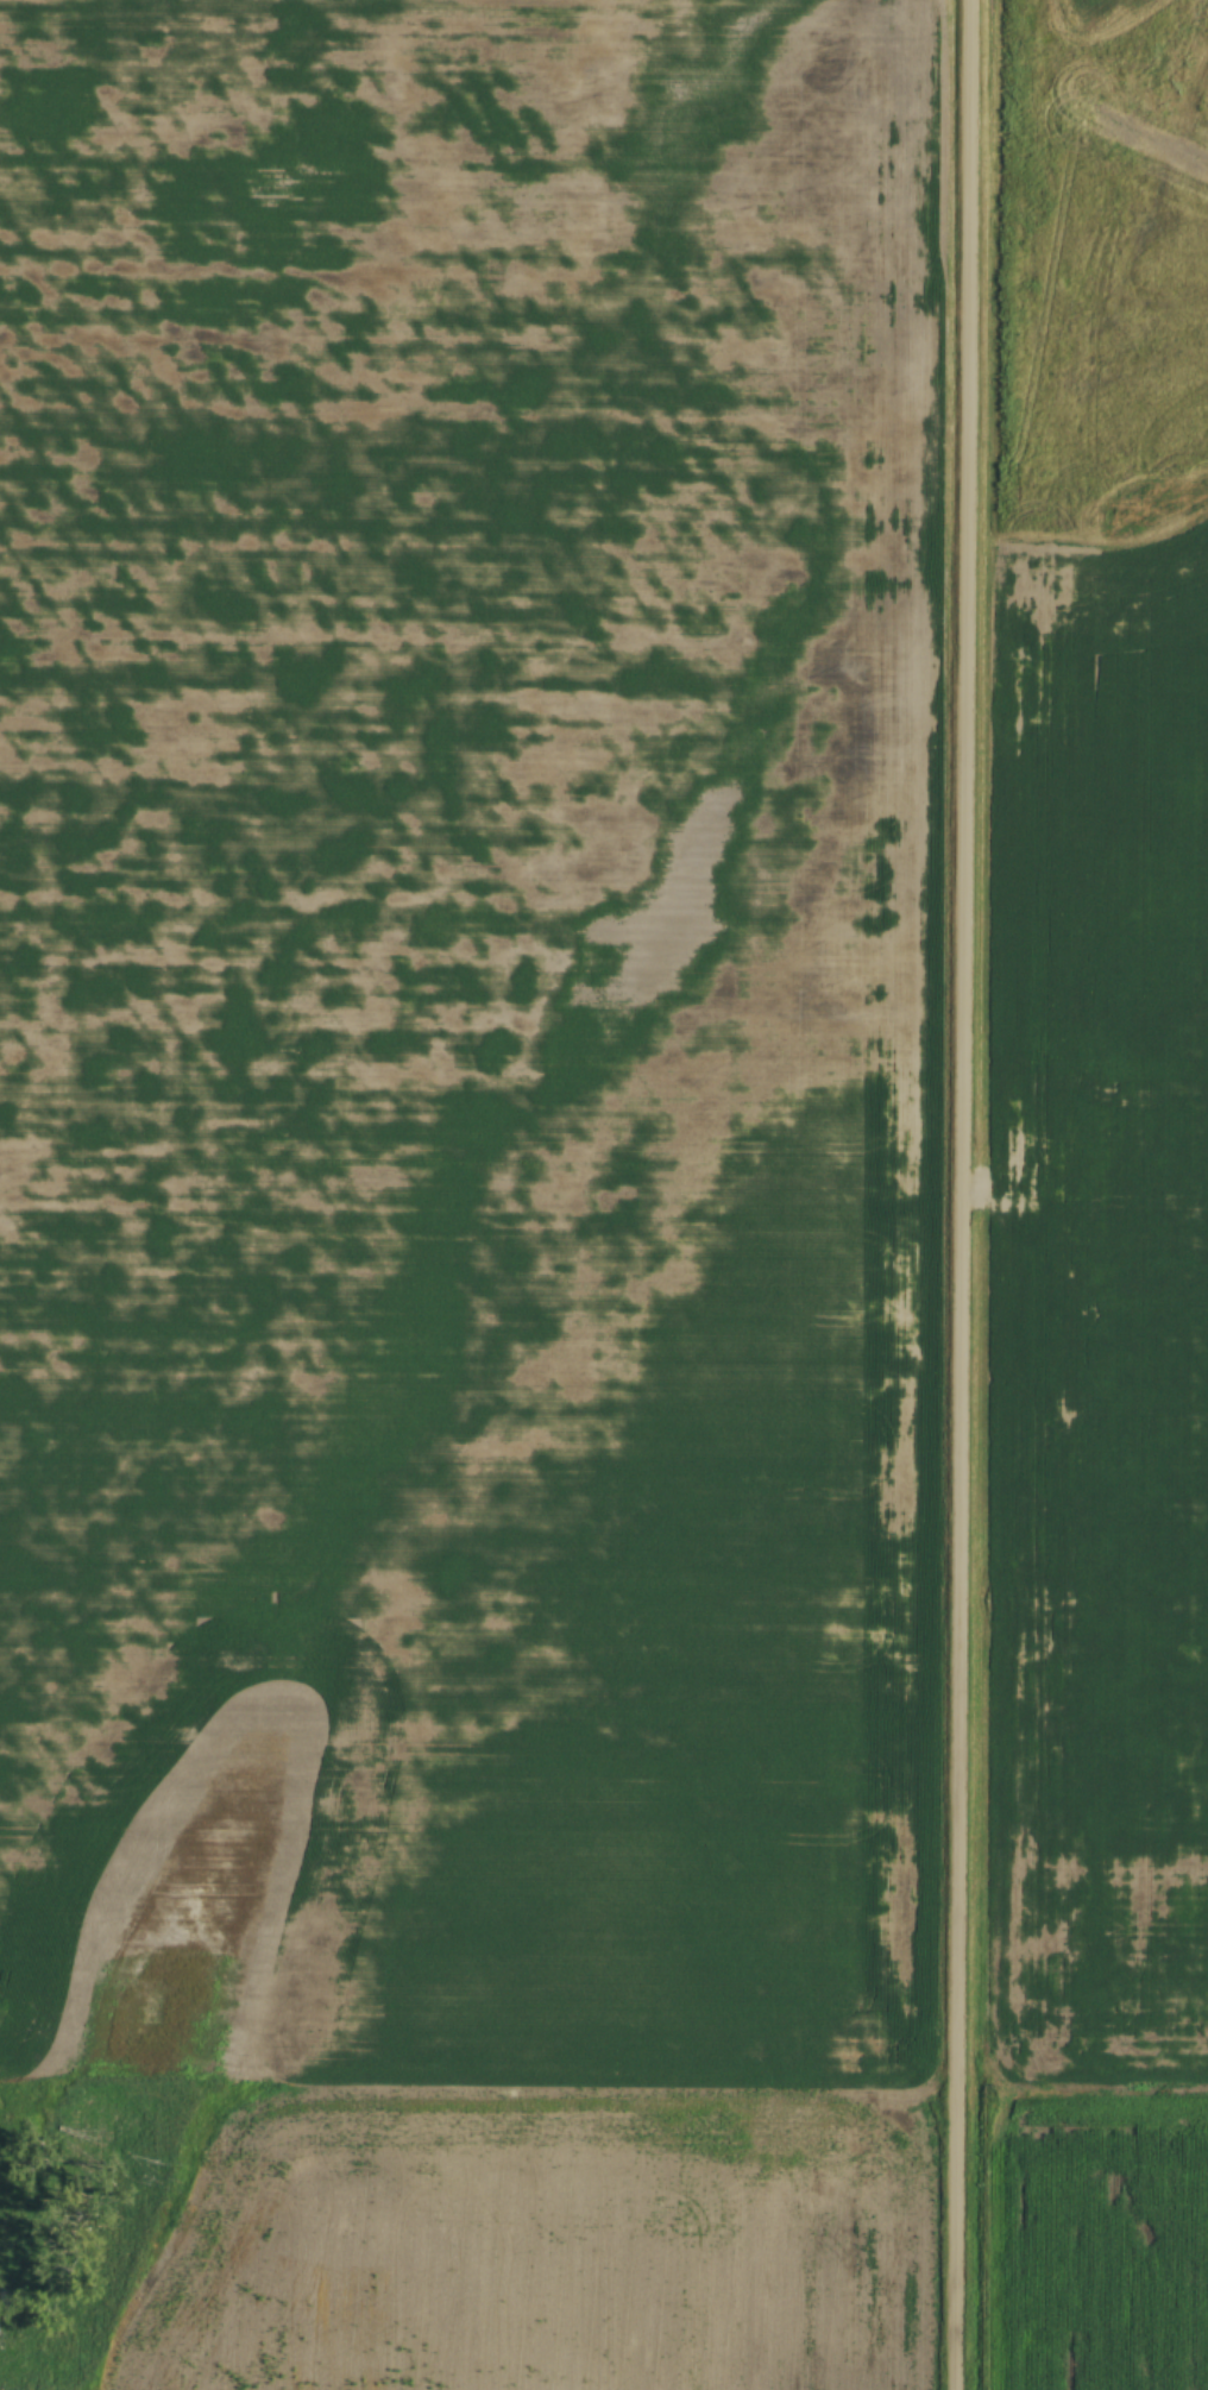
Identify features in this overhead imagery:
road: (963, 1195)

